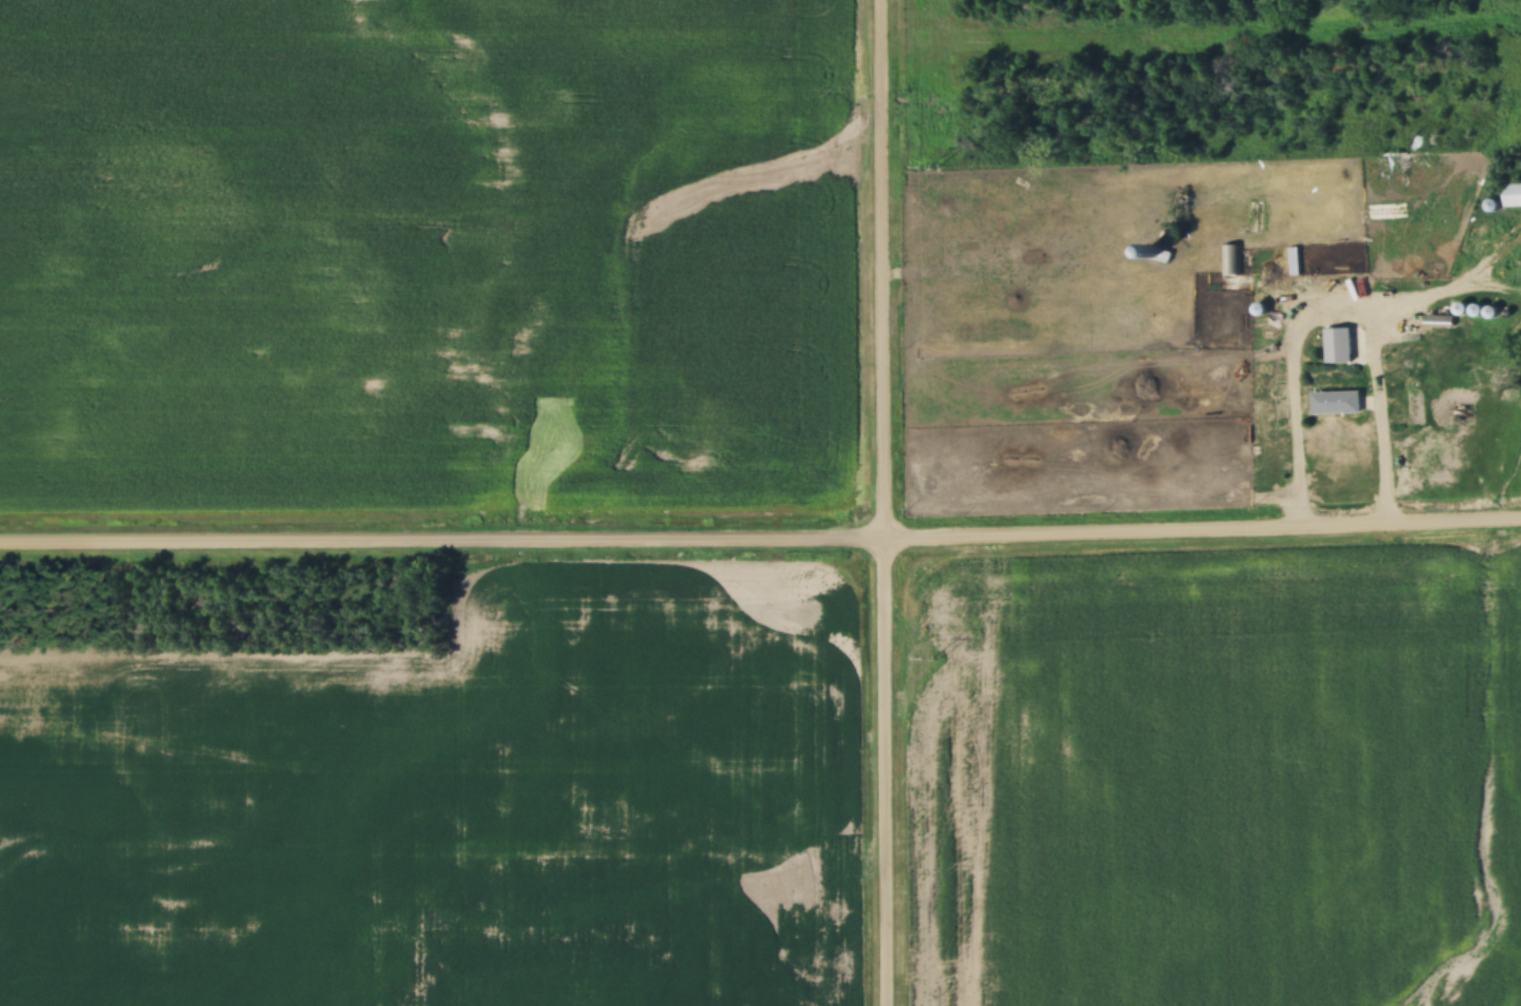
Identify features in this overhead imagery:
building: (1395, 165)
power tower: (934, 179)
building: (1513, 196)
building: (1157, 254)
building: (1231, 261)
building: (1294, 262)
road: (1334, 311)
building: (1439, 321)
building: (1263, 327)
building: (1336, 403)
road: (886, 503)
road: (1203, 528)
road: (443, 535)
power tower: (935, 660)

